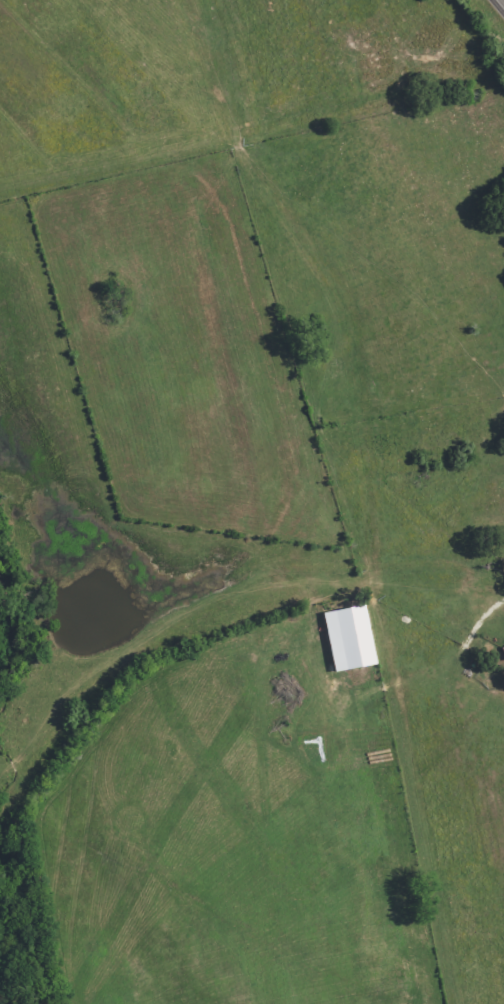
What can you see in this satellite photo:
road: (502, 1)
building: (352, 638)

